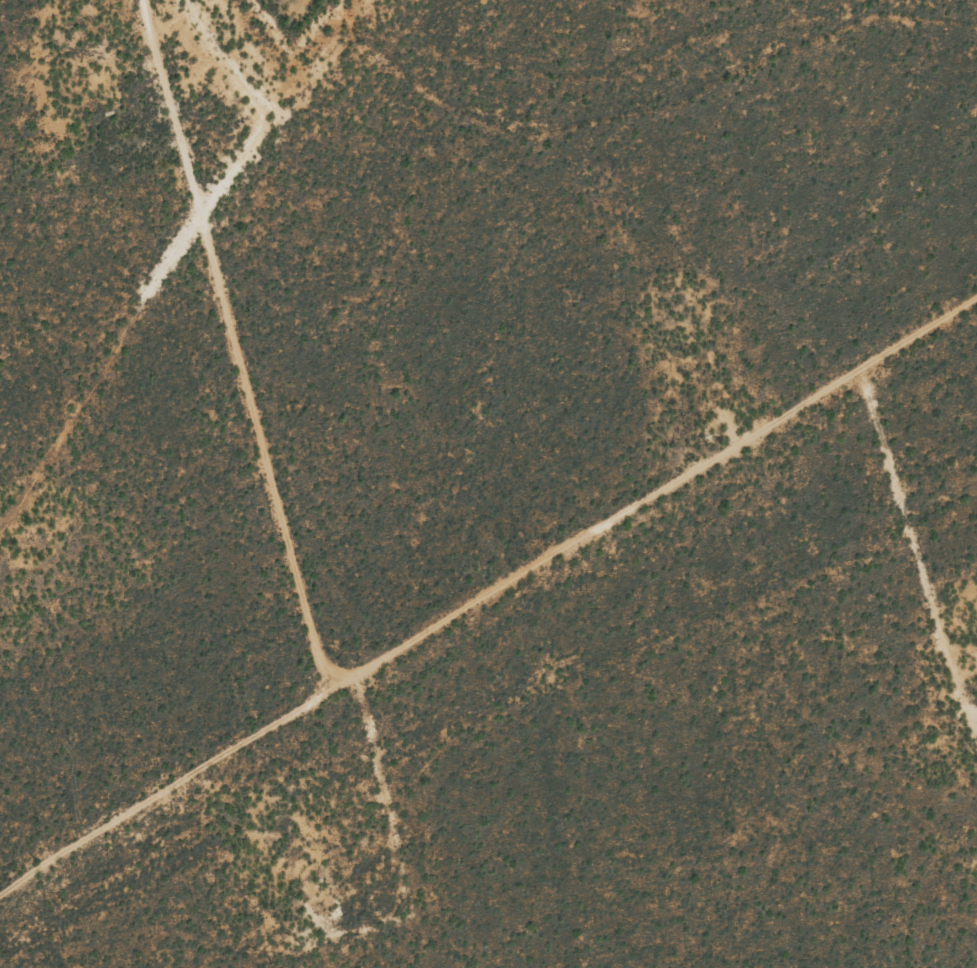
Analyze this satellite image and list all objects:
road: (283, 396)
road: (937, 534)
road: (485, 592)

